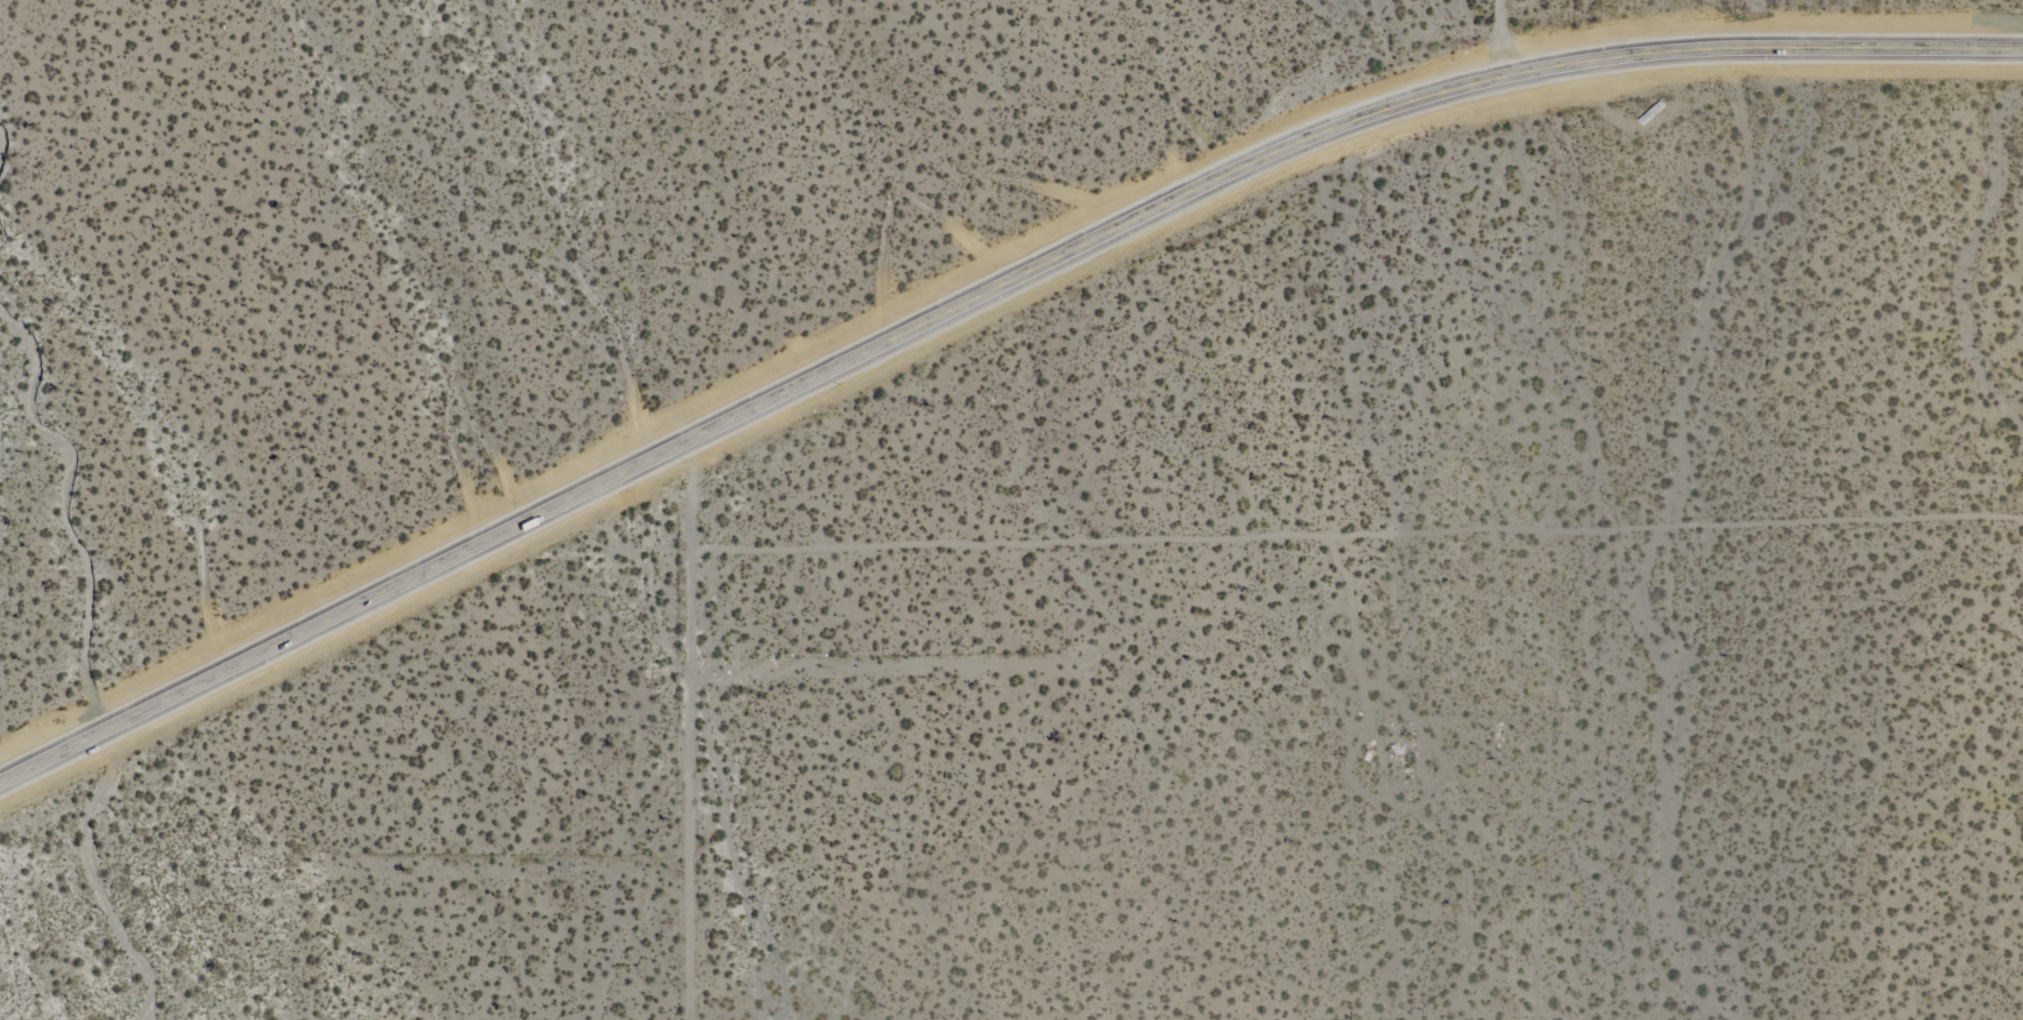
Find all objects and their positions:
road: (1494, 38)
road: (978, 294)
road: (689, 727)

